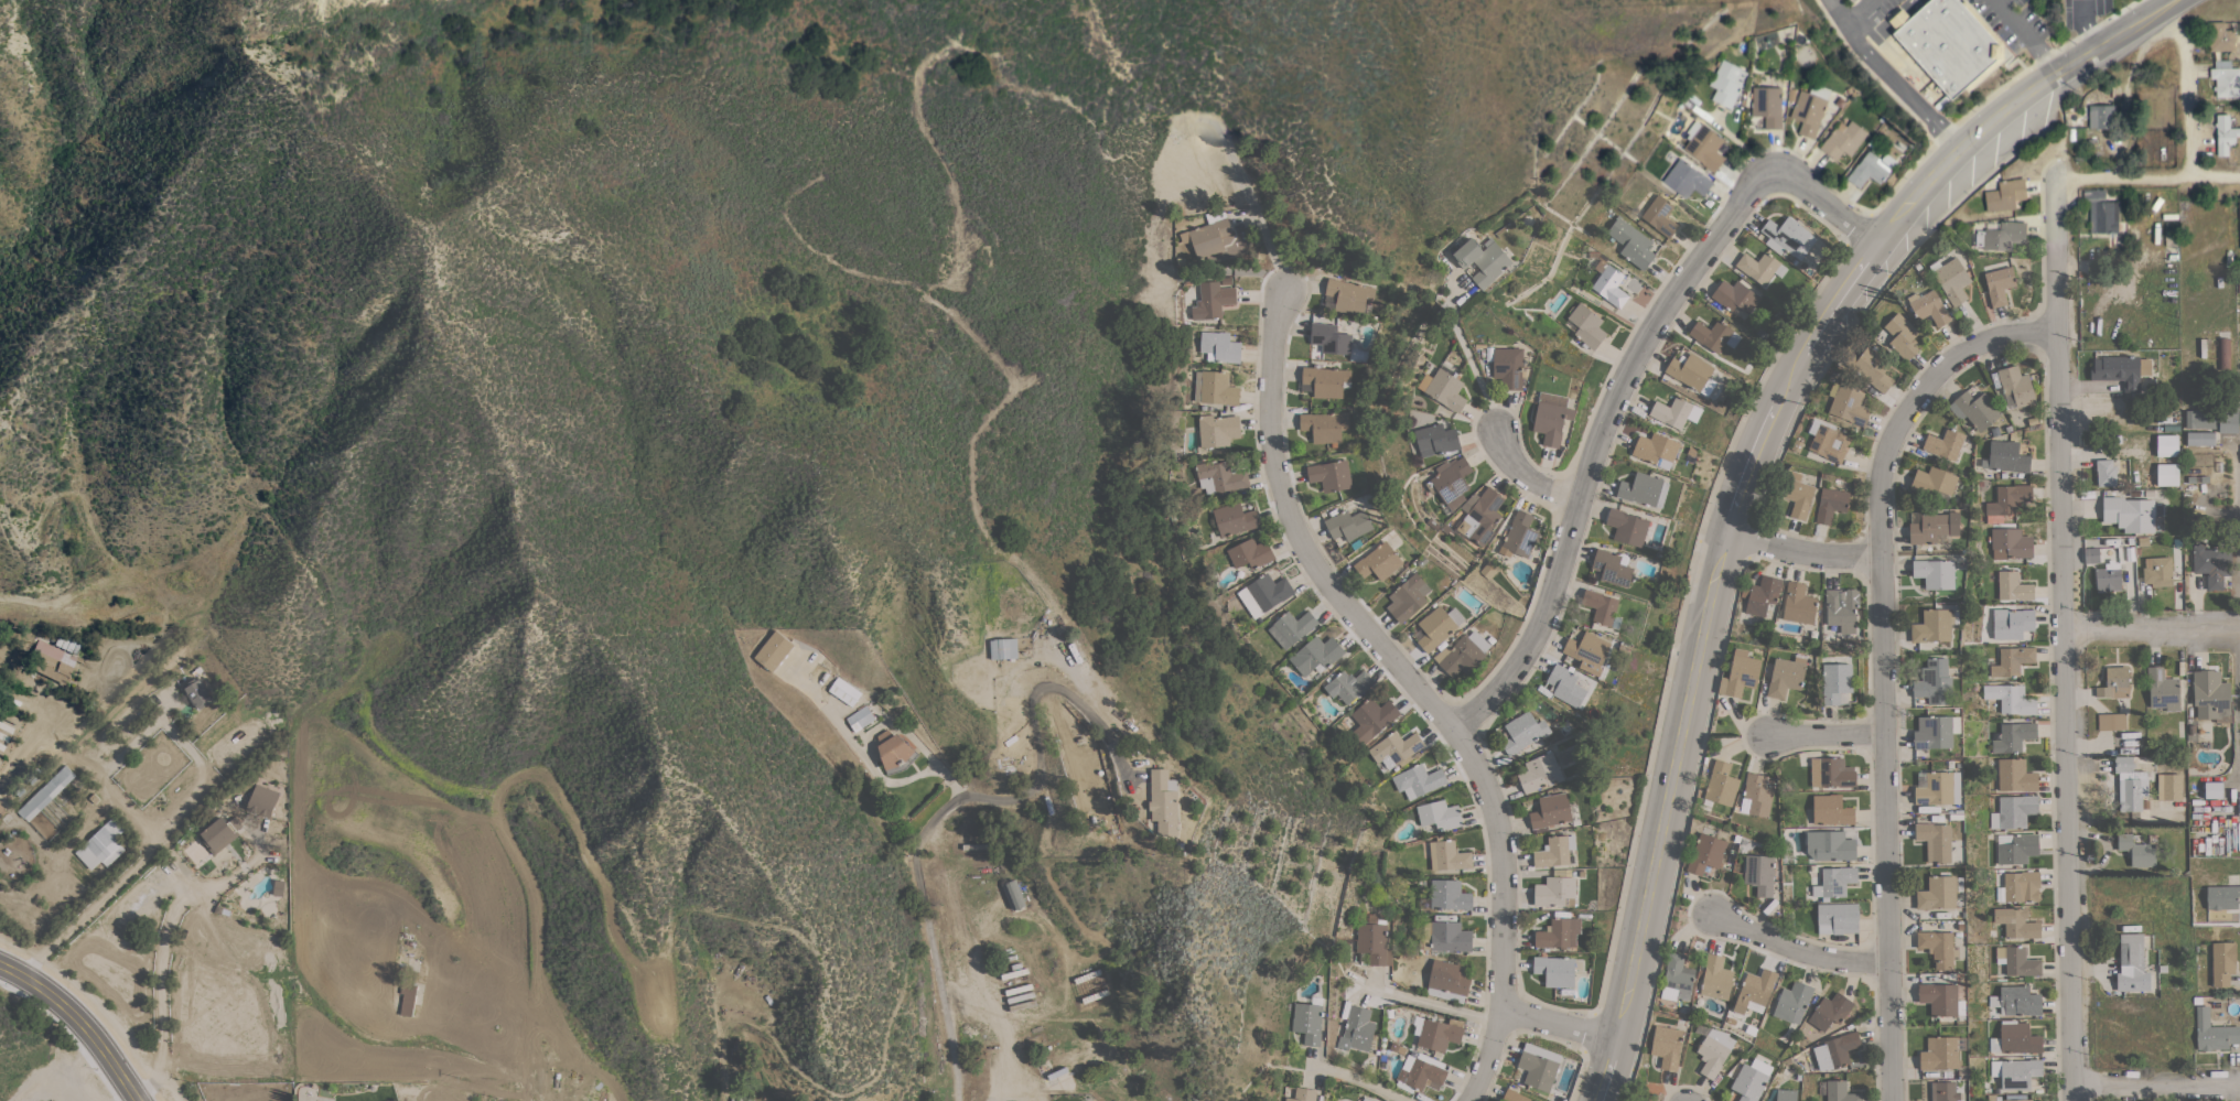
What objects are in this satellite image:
road: (1994, 1)
road: (2085, 3)
road: (1855, 14)
road: (2090, 28)
road: (2023, 36)
building: (2219, 37)
building: (1948, 44)
road: (1888, 77)
building: (2225, 79)
building: (1726, 83)
road: (2183, 90)
building: (1766, 105)
building: (1809, 109)
building: (2100, 116)
building: (2223, 134)
building: (1841, 140)
building: (1703, 145)
building: (1870, 169)
road: (2146, 176)
building: (1686, 179)
building: (2004, 195)
building: (2100, 212)
building: (1660, 215)
building: (2239, 219)
building: (1207, 235)
building: (2003, 236)
building: (1787, 237)
building: (1631, 242)
building: (1482, 260)
building: (1759, 267)
building: (1952, 280)
building: (1608, 282)
building: (1999, 284)
building: (2238, 287)
building: (1348, 295)
building: (1734, 295)
building: (1211, 300)
building: (1929, 307)
building: (1586, 325)
building: (1711, 334)
building: (1902, 336)
building: (1329, 338)
building: (1219, 347)
building: (2223, 353)
building: (1508, 367)
building: (1873, 368)
building: (2117, 370)
building: (1690, 373)
building: (1325, 381)
building: (2016, 385)
building: (1214, 388)
road: (1618, 388)
building: (1445, 390)
building: (1849, 404)
building: (1974, 410)
building: (1676, 411)
building: (1550, 418)
building: (2211, 421)
building: (1324, 427)
building: (1217, 430)
building: (2200, 439)
building: (1435, 440)
building: (1828, 441)
building: (1945, 444)
building: (2166, 445)
building: (1656, 450)
building: (2005, 456)
road: (1745, 467)
building: (2106, 473)
building: (2166, 474)
building: (1329, 475)
building: (1219, 476)
building: (2197, 476)
road: (1523, 478)
building: (1450, 481)
building: (1932, 482)
building: (1643, 489)
building: (1798, 497)
building: (2009, 499)
building: (1830, 504)
building: (2131, 512)
building: (1479, 515)
building: (1234, 519)
building: (1348, 525)
building: (1627, 527)
building: (1932, 527)
building: (1519, 536)
building: (2010, 543)
road: (1800, 551)
building: (1250, 553)
building: (2091, 554)
building: (1378, 561)
building: (2211, 564)
building: (1612, 568)
building: (2157, 571)
building: (1935, 573)
building: (2108, 576)
building: (2013, 586)
building: (1263, 594)
building: (1407, 596)
building: (1763, 596)
building: (1798, 603)
building: (1601, 605)
building: (1841, 606)
building: (2011, 623)
building: (1436, 626)
building: (1931, 626)
building: (1291, 627)
road: (2151, 632)
road: (2063, 640)
building: (1003, 648)
building: (1587, 649)
building: (773, 650)
building: (1463, 654)
building: (1315, 655)
building: (50, 660)
building: (2012, 661)
road: (1882, 663)
building: (1740, 673)
building: (1785, 677)
building: (1835, 682)
building: (1934, 682)
building: (2114, 682)
building: (1347, 684)
building: (1565, 684)
building: (2162, 689)
building: (843, 691)
building: (196, 693)
building: (2210, 694)
road: (1425, 695)
road: (2236, 700)
building: (2015, 701)
building: (860, 717)
building: (1371, 719)
building: (2111, 721)
building: (1935, 732)
building: (1523, 733)
road: (1824, 735)
building: (2013, 736)
building: (1394, 748)
building: (892, 749)
building: (1540, 773)
building: (1831, 773)
building: (2015, 776)
building: (1418, 780)
building: (1721, 784)
building: (2130, 785)
building: (2168, 787)
building: (1937, 788)
building: (2214, 789)
road: (191, 790)
building: (45, 794)
building: (1757, 794)
building: (262, 800)
building: (1163, 802)
road: (950, 803)
building: (1550, 810)
building: (1831, 810)
building: (2014, 811)
building: (1439, 814)
building: (219, 833)
building: (1935, 841)
building: (101, 844)
building: (1830, 845)
building: (2017, 849)
building: (1554, 851)
building: (2136, 851)
building: (1705, 853)
building: (1449, 855)
building: (1759, 874)
building: (1834, 881)
building: (2021, 886)
building: (1554, 892)
building: (1938, 892)
building: (1013, 894)
building: (1449, 895)
building: (2222, 897)
building: (1837, 920)
building: (2016, 922)
building: (1559, 932)
building: (1446, 936)
building: (1374, 940)
building: (1937, 947)
road: (155, 948)
road: (1796, 949)
building: (2018, 962)
building: (2222, 962)
building: (2132, 963)
building: (1555, 970)
building: (1715, 978)
building: (1677, 979)
building: (1447, 981)
building: (1755, 992)
building: (408, 999)
building: (1940, 1000)
building: (2016, 1001)
building: (1792, 1002)
road: (1436, 1006)
building: (1830, 1011)
road: (78, 1022)
building: (1307, 1022)
road: (1560, 1026)
building: (1359, 1027)
road: (994, 1029)
building: (2214, 1032)
building: (1440, 1033)
building: (2015, 1038)
building: (1667, 1046)
building: (1838, 1050)
building: (1714, 1051)
building: (1941, 1053)
building: (1538, 1066)
building: (2016, 1072)
building: (1422, 1073)
road: (1356, 1077)
building: (1749, 1082)
road: (2156, 1087)
building: (1840, 1091)
building: (1943, 1091)
building: (1302, 1094)
building: (1786, 1094)
road: (2230, 1094)
building: (1514, 1095)
building: (741, 1098)
building: (2015, 1098)
building: (1366, 1100)

